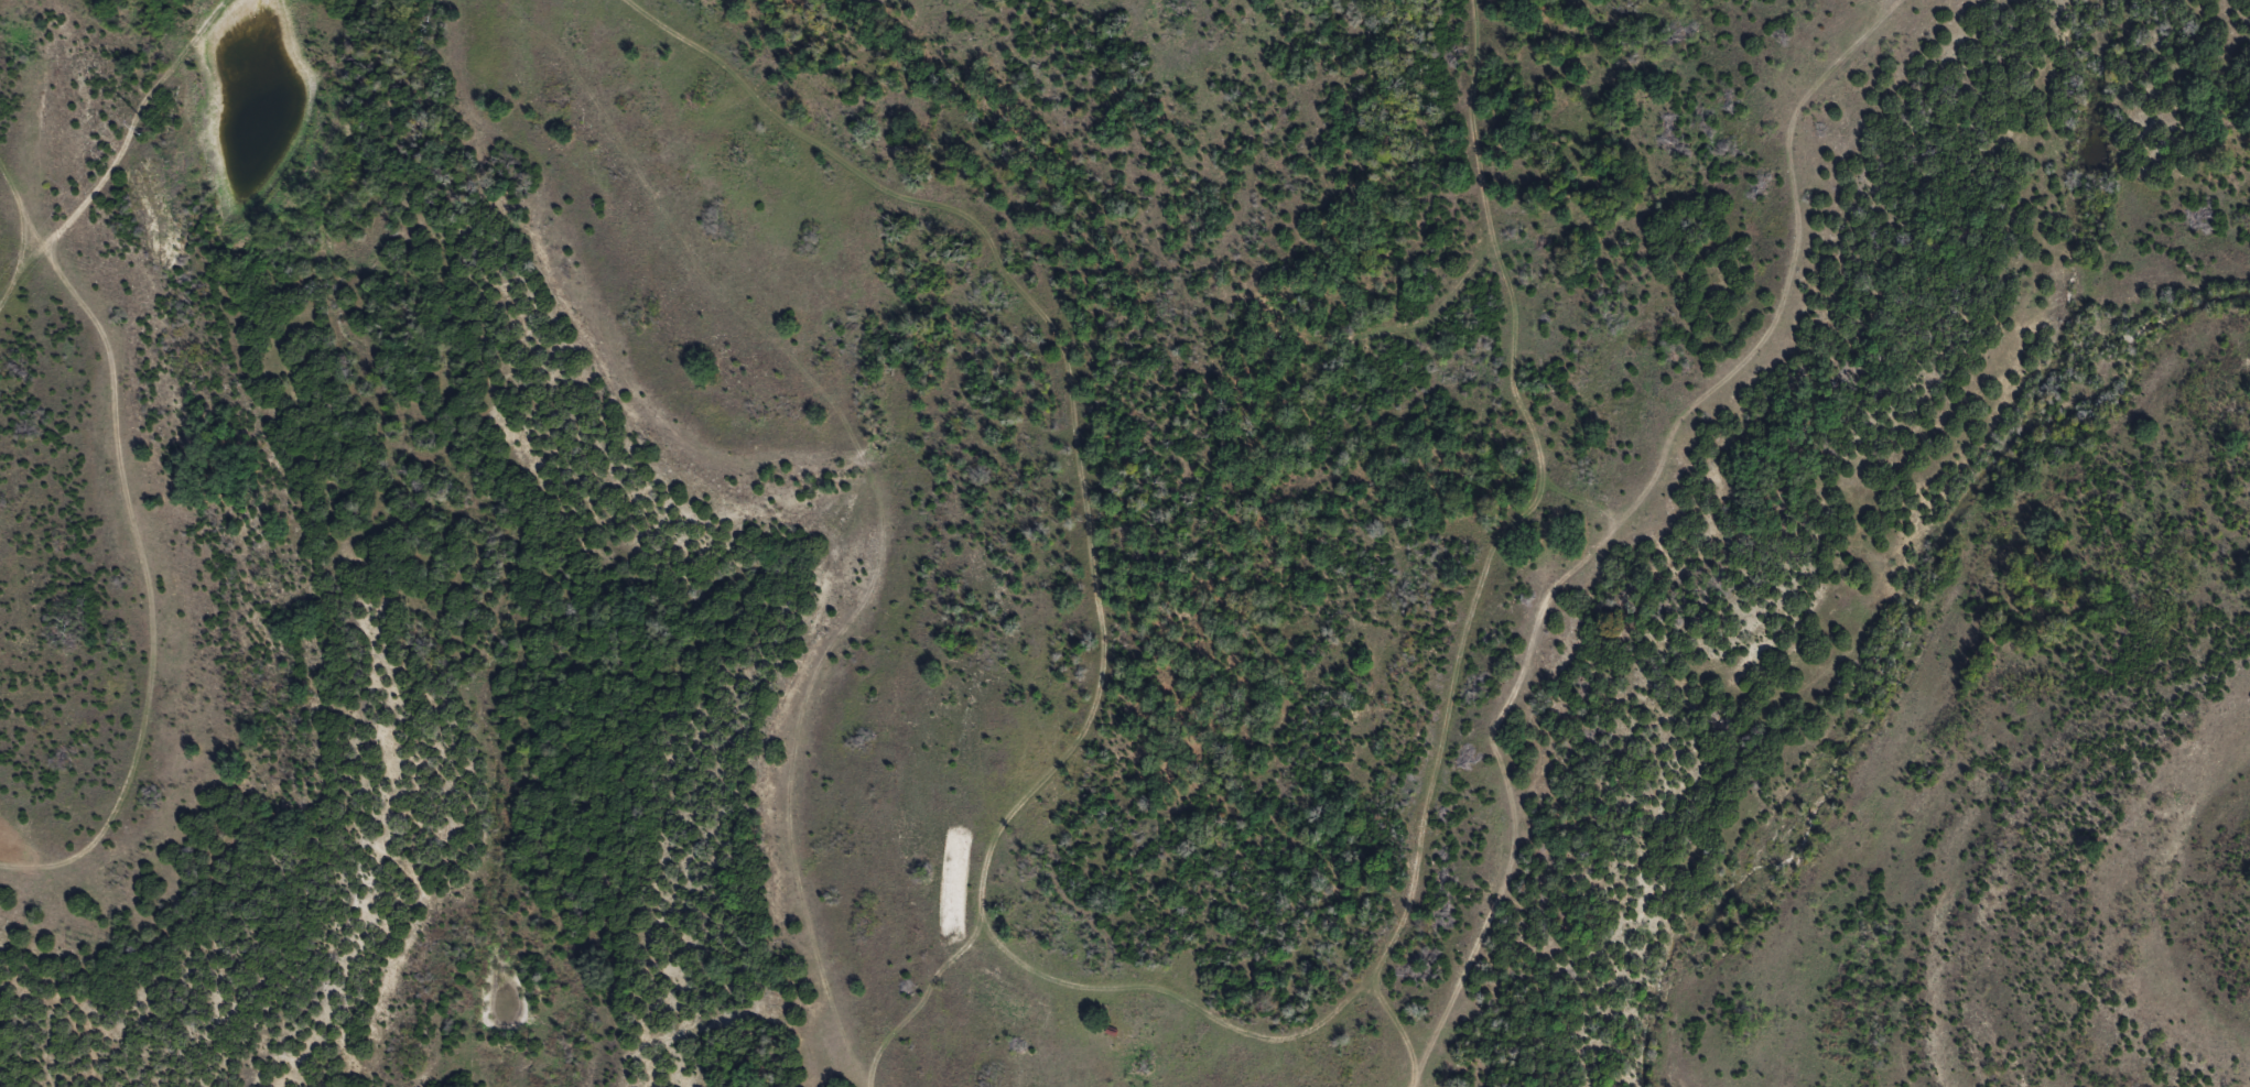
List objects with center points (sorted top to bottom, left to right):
power tower: (151, 126)

